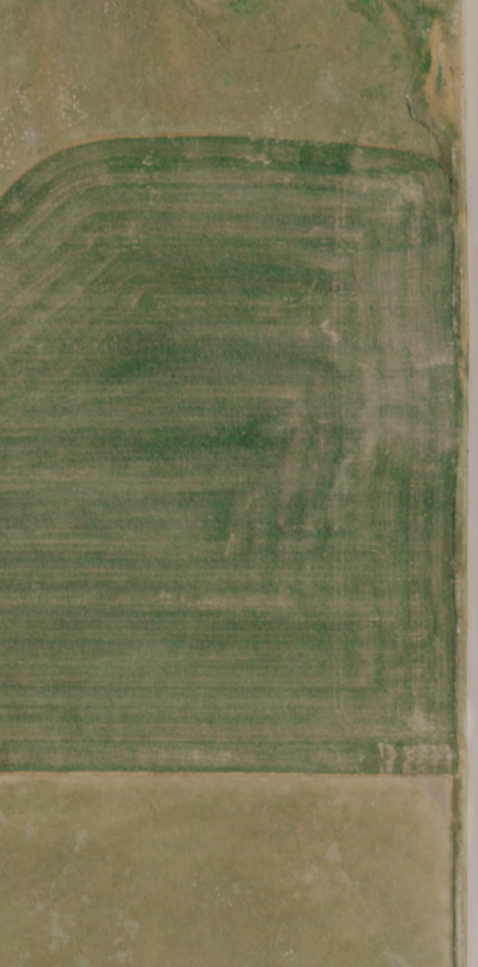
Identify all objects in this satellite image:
road: (477, 483)

